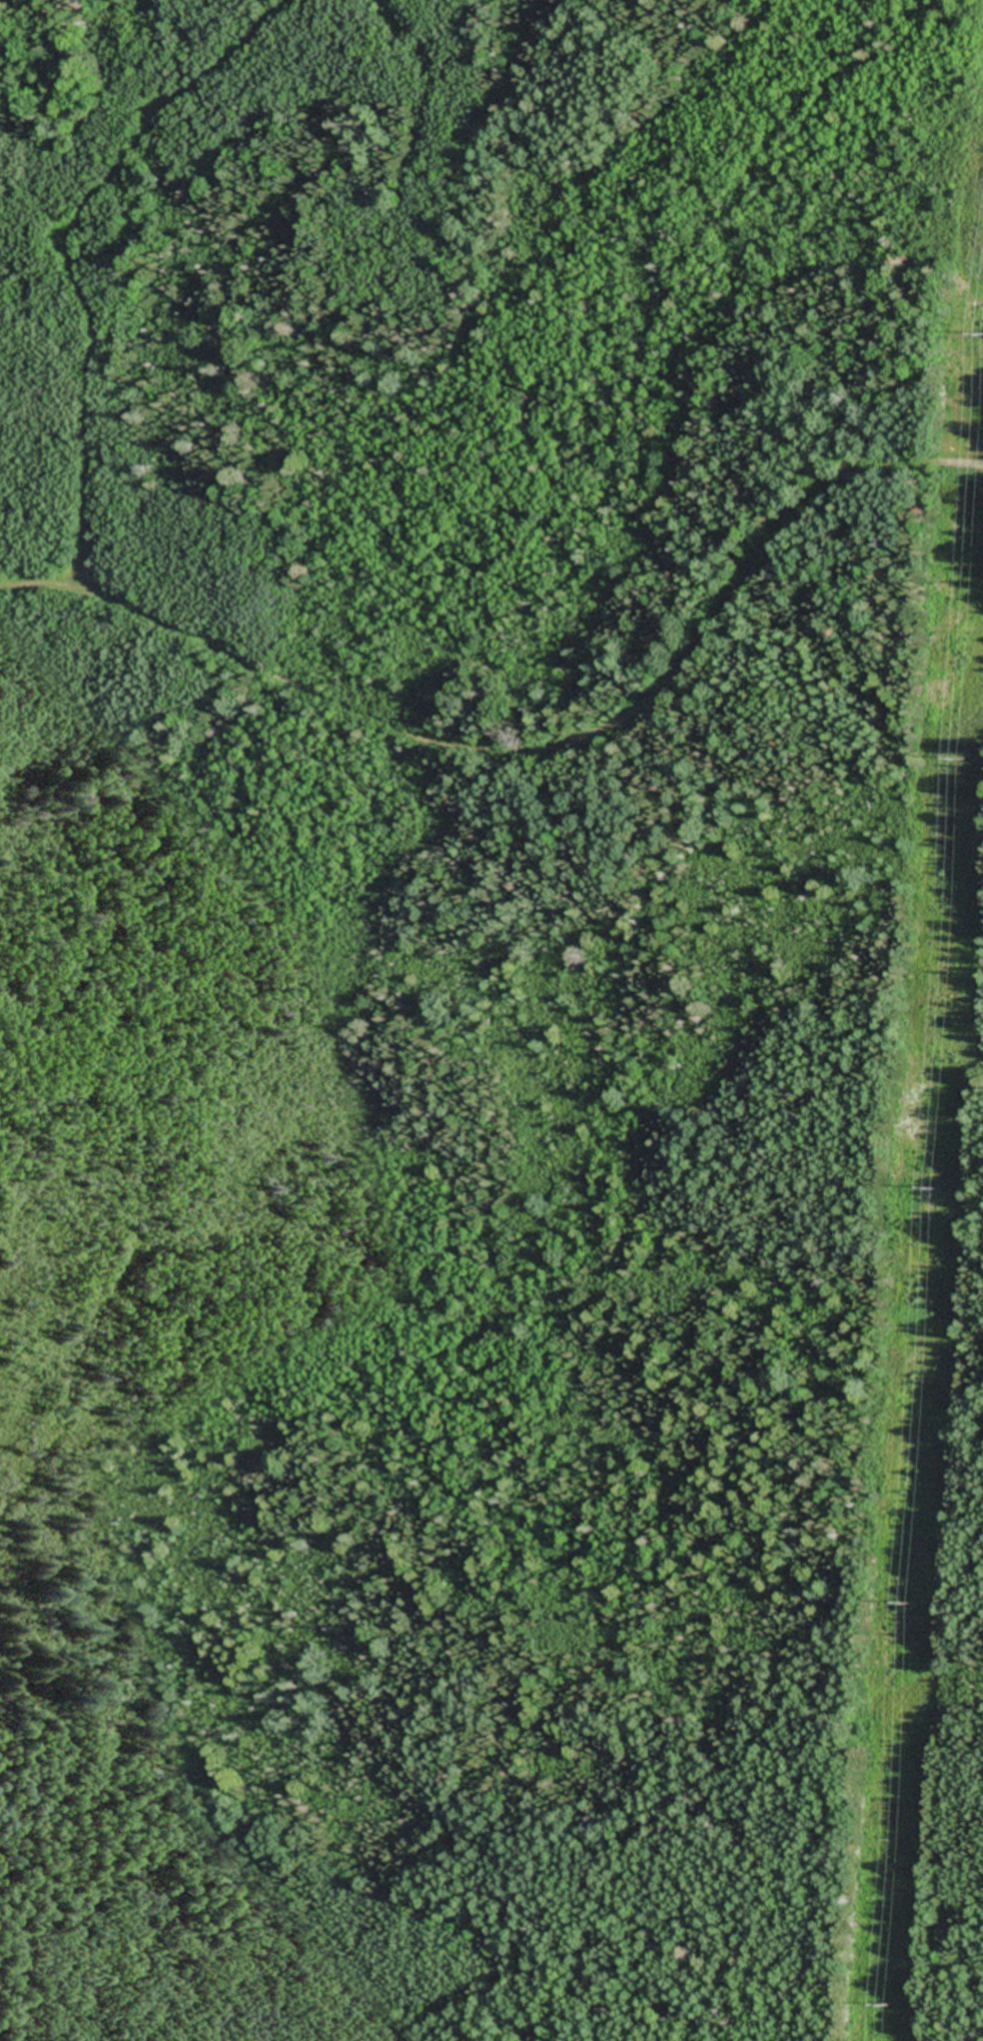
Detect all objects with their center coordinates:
power tower: (982, 337)
road: (534, 748)
power tower: (955, 759)
power tower: (933, 1192)
power tower: (904, 1602)
power tower: (882, 2005)

